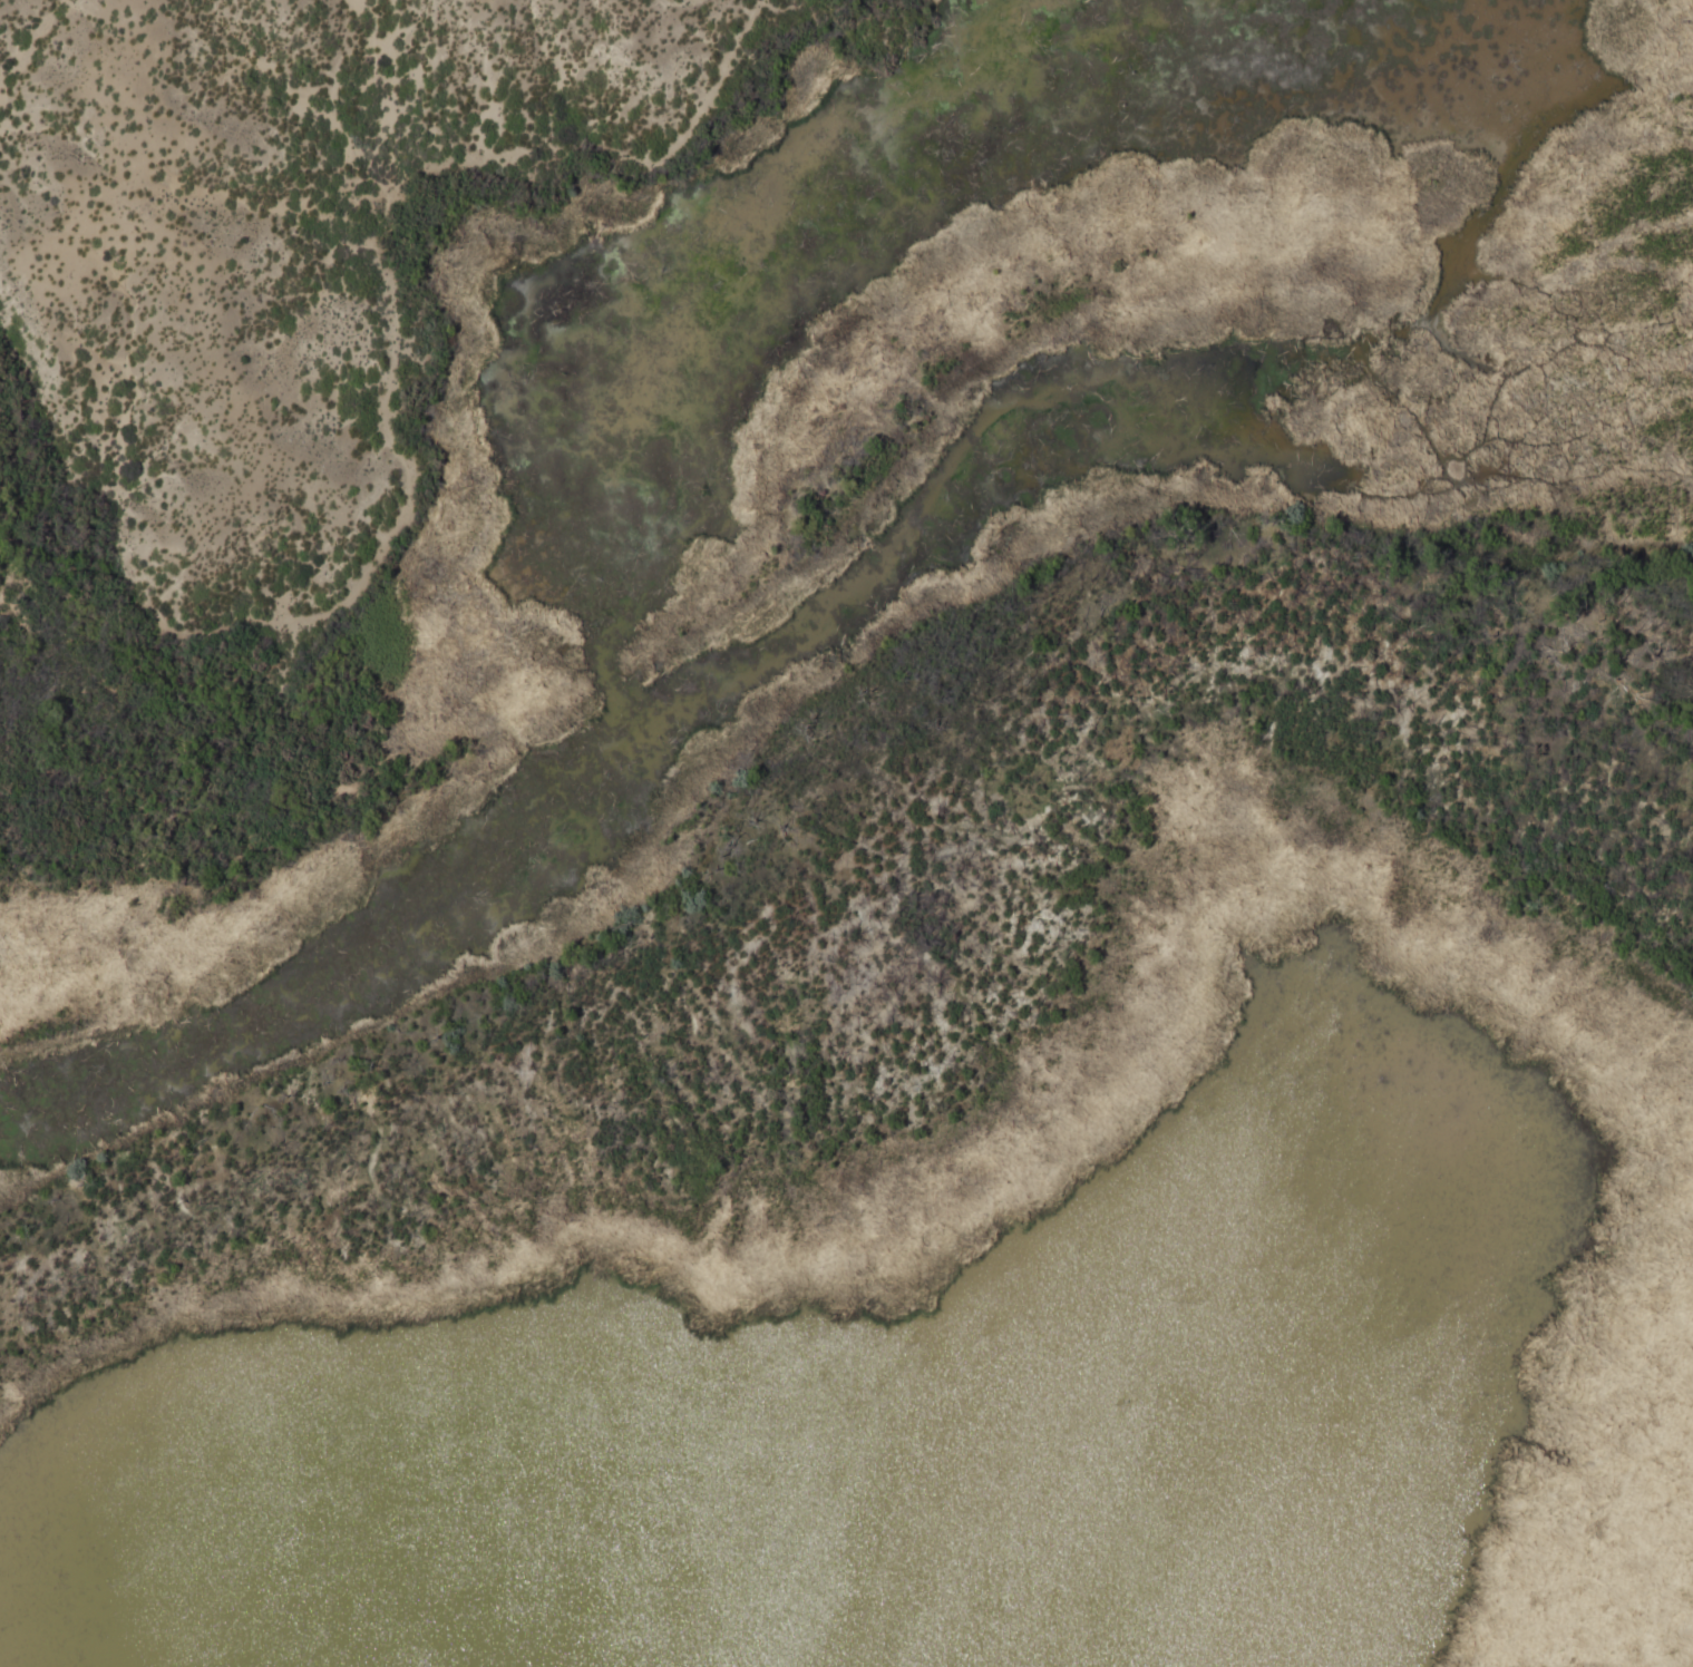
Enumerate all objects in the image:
road: (379, 358)

